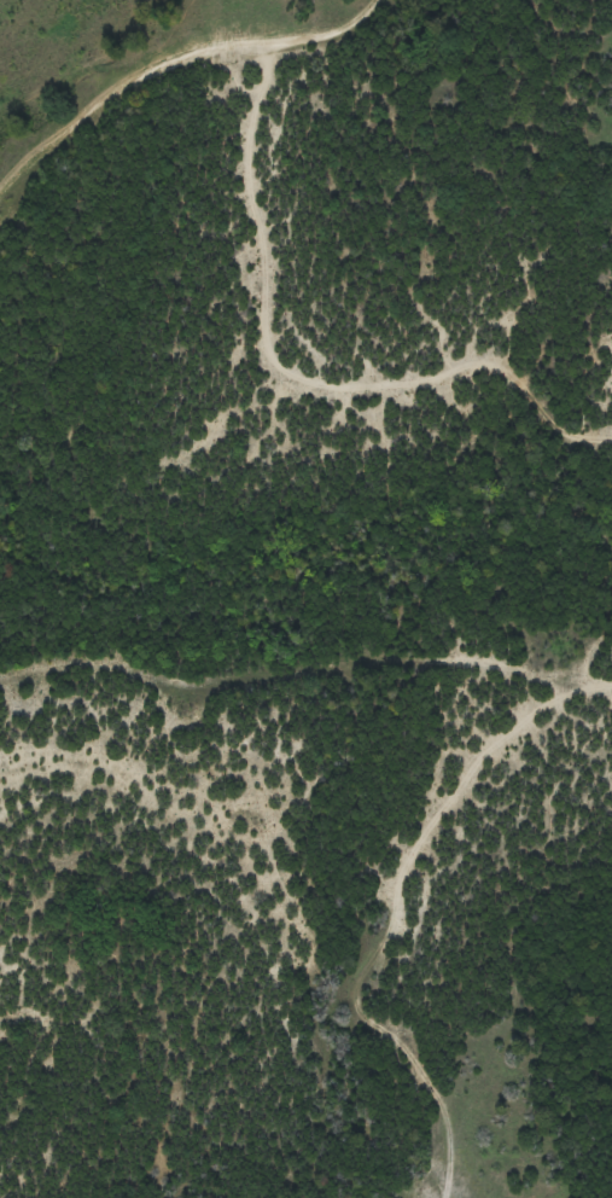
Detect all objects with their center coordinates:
road: (157, 45)

